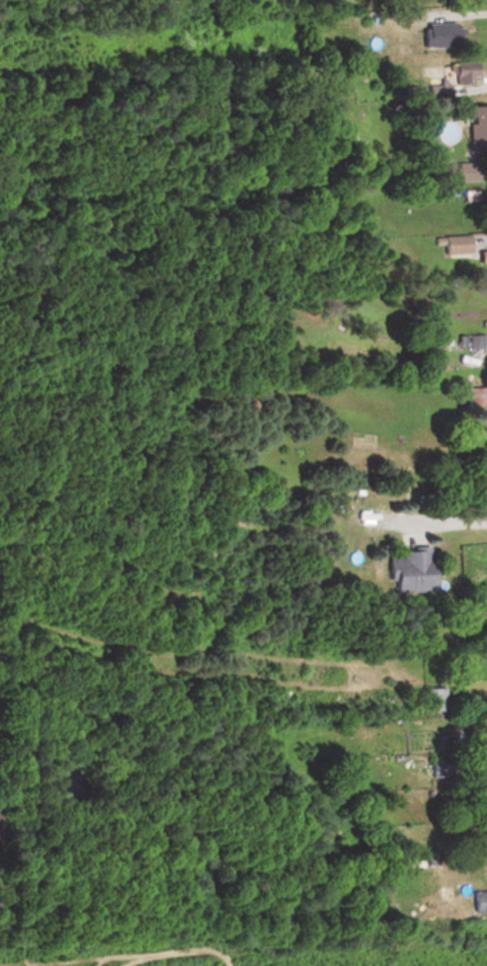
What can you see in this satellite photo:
building: (436, 34)
building: (447, 77)
building: (476, 126)
building: (467, 171)
building: (486, 198)
building: (454, 245)
building: (486, 255)
road: (447, 512)
building: (407, 571)
building: (486, 656)
building: (432, 699)
building: (477, 902)

